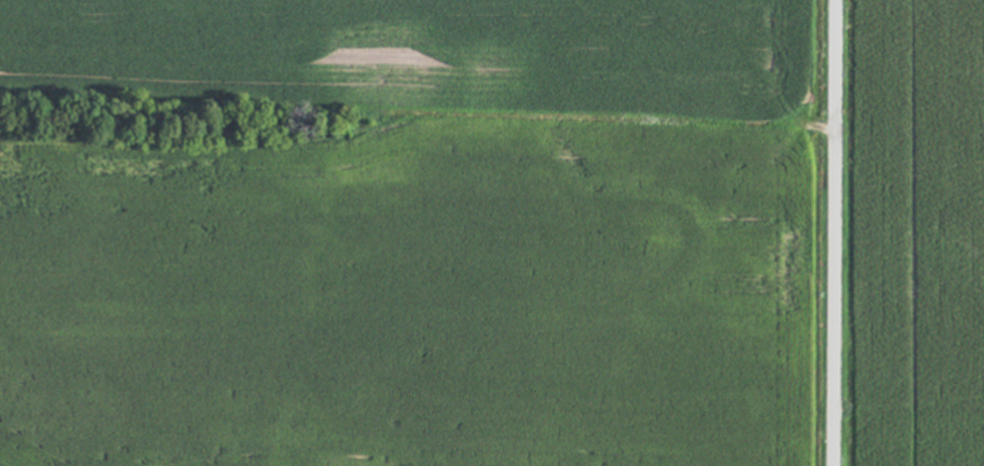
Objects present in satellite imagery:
road: (837, 233)

